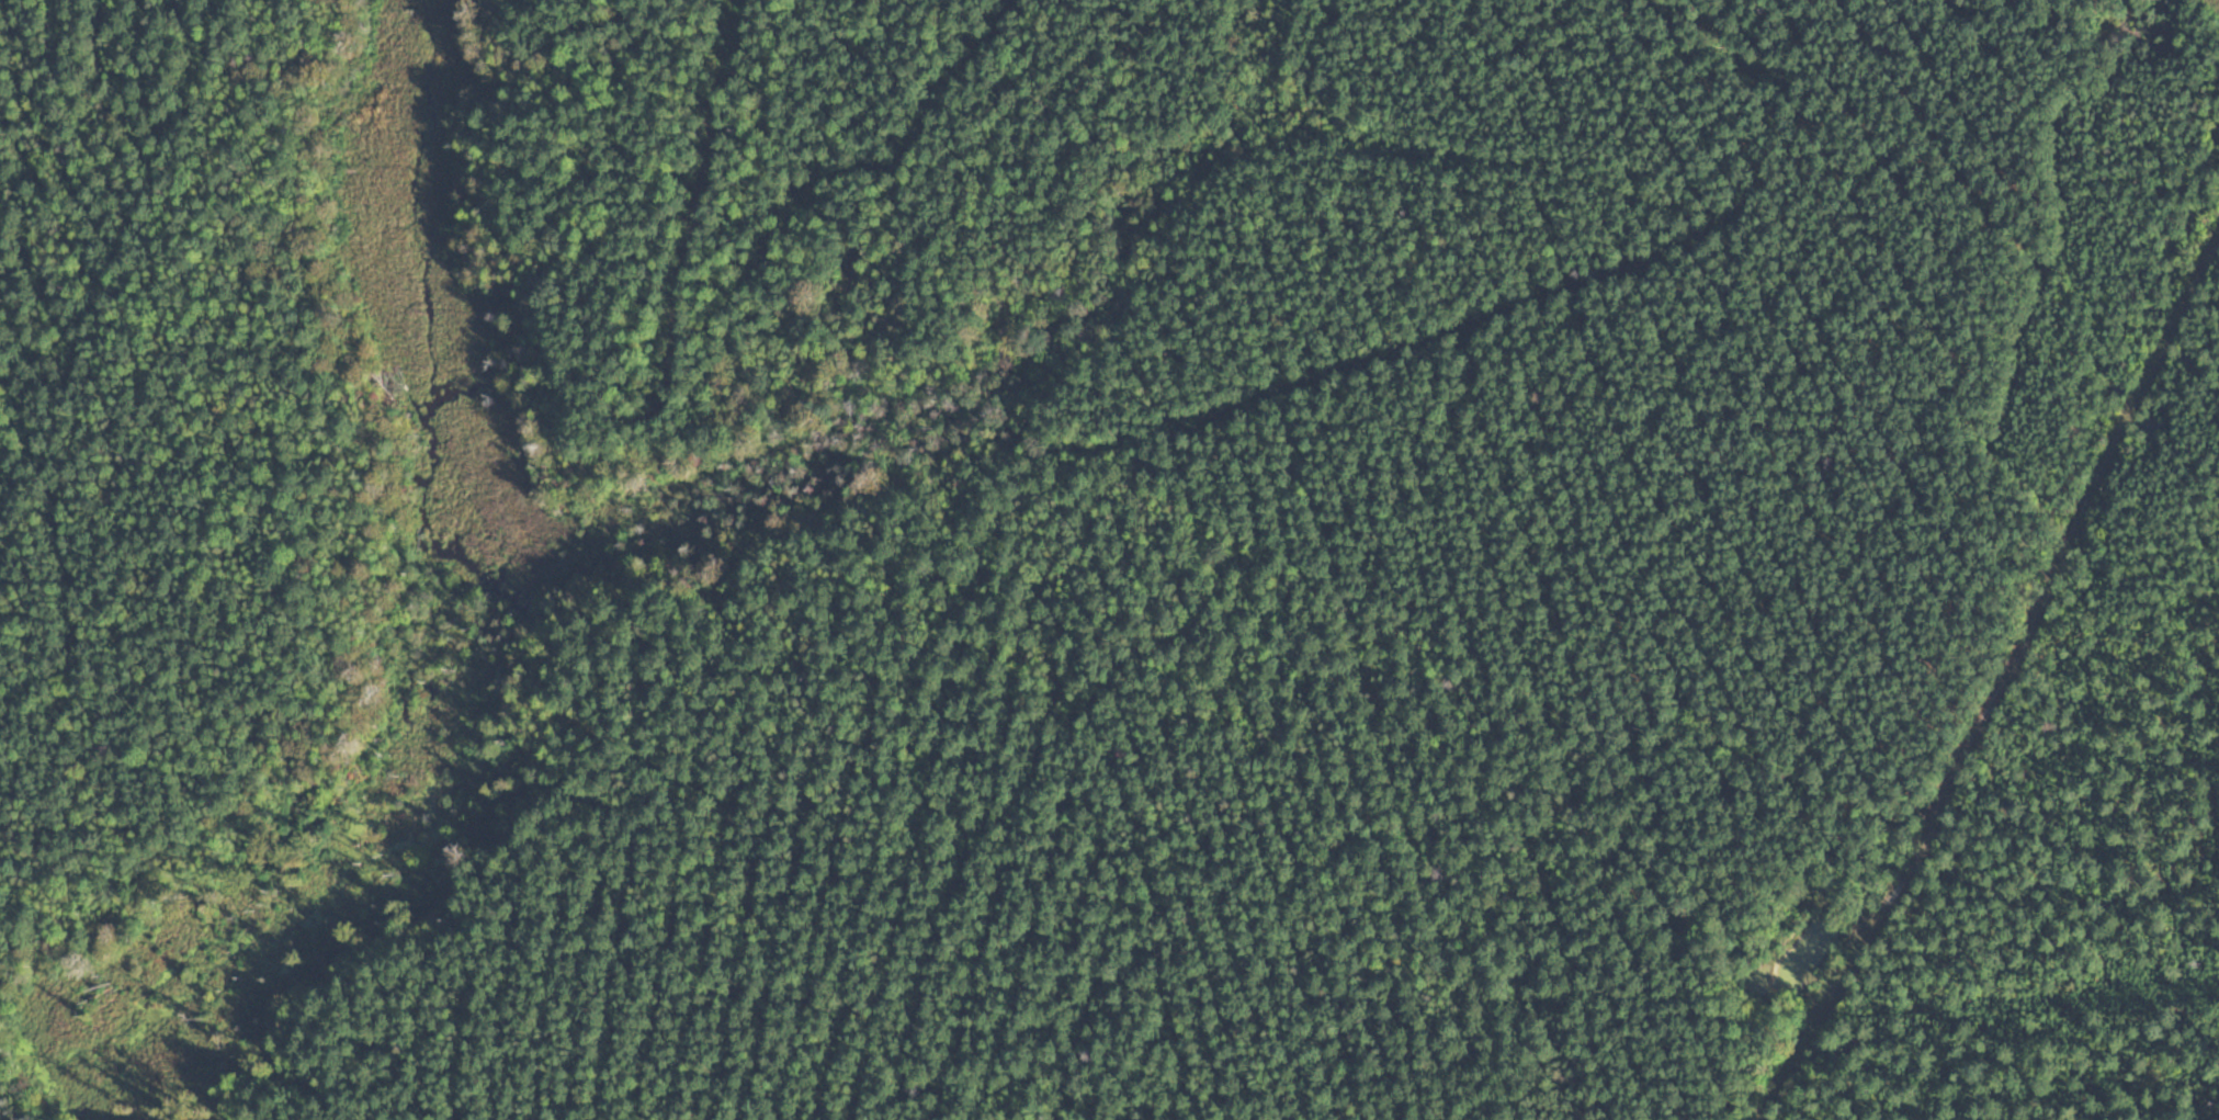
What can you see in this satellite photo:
park: (1135, 569)
road: (1993, 682)

